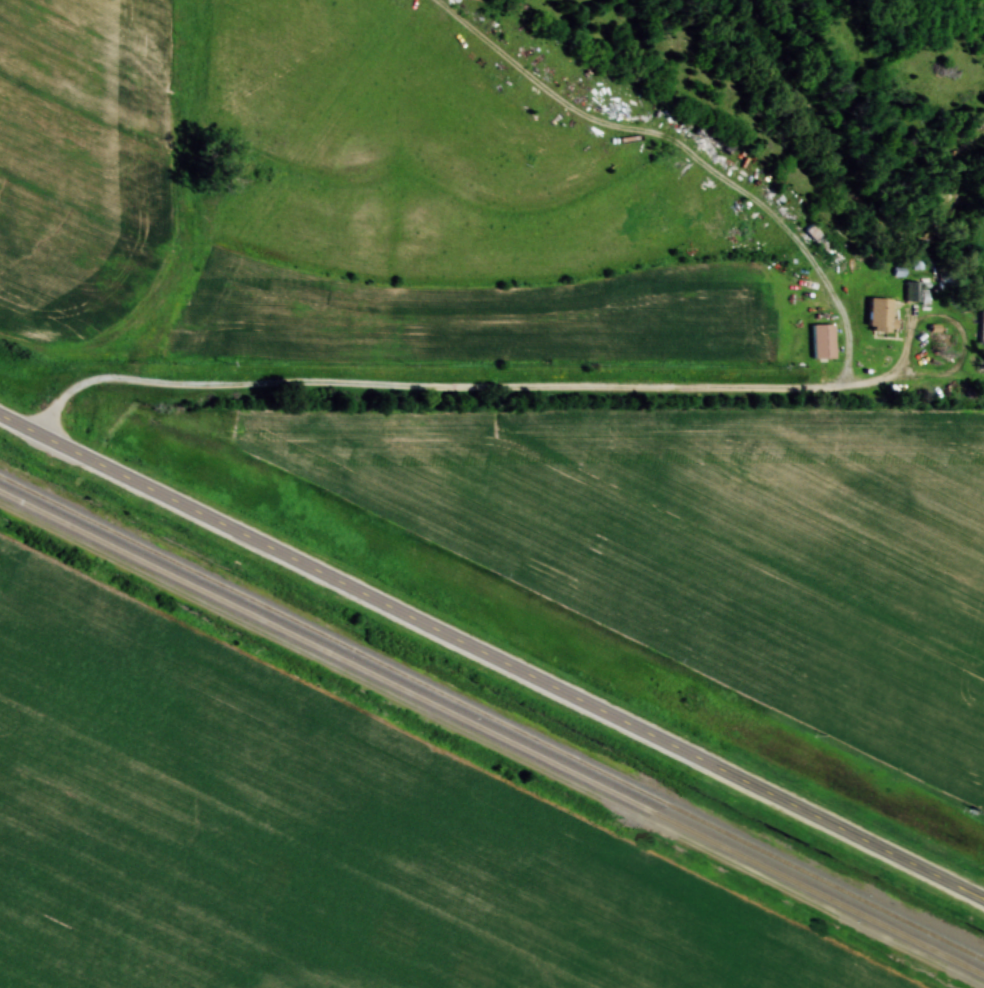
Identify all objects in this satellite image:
building: (912, 292)
building: (878, 315)
building: (981, 328)
building: (821, 341)
road: (462, 389)
road: (491, 661)
railway: (492, 716)
railway: (491, 733)

